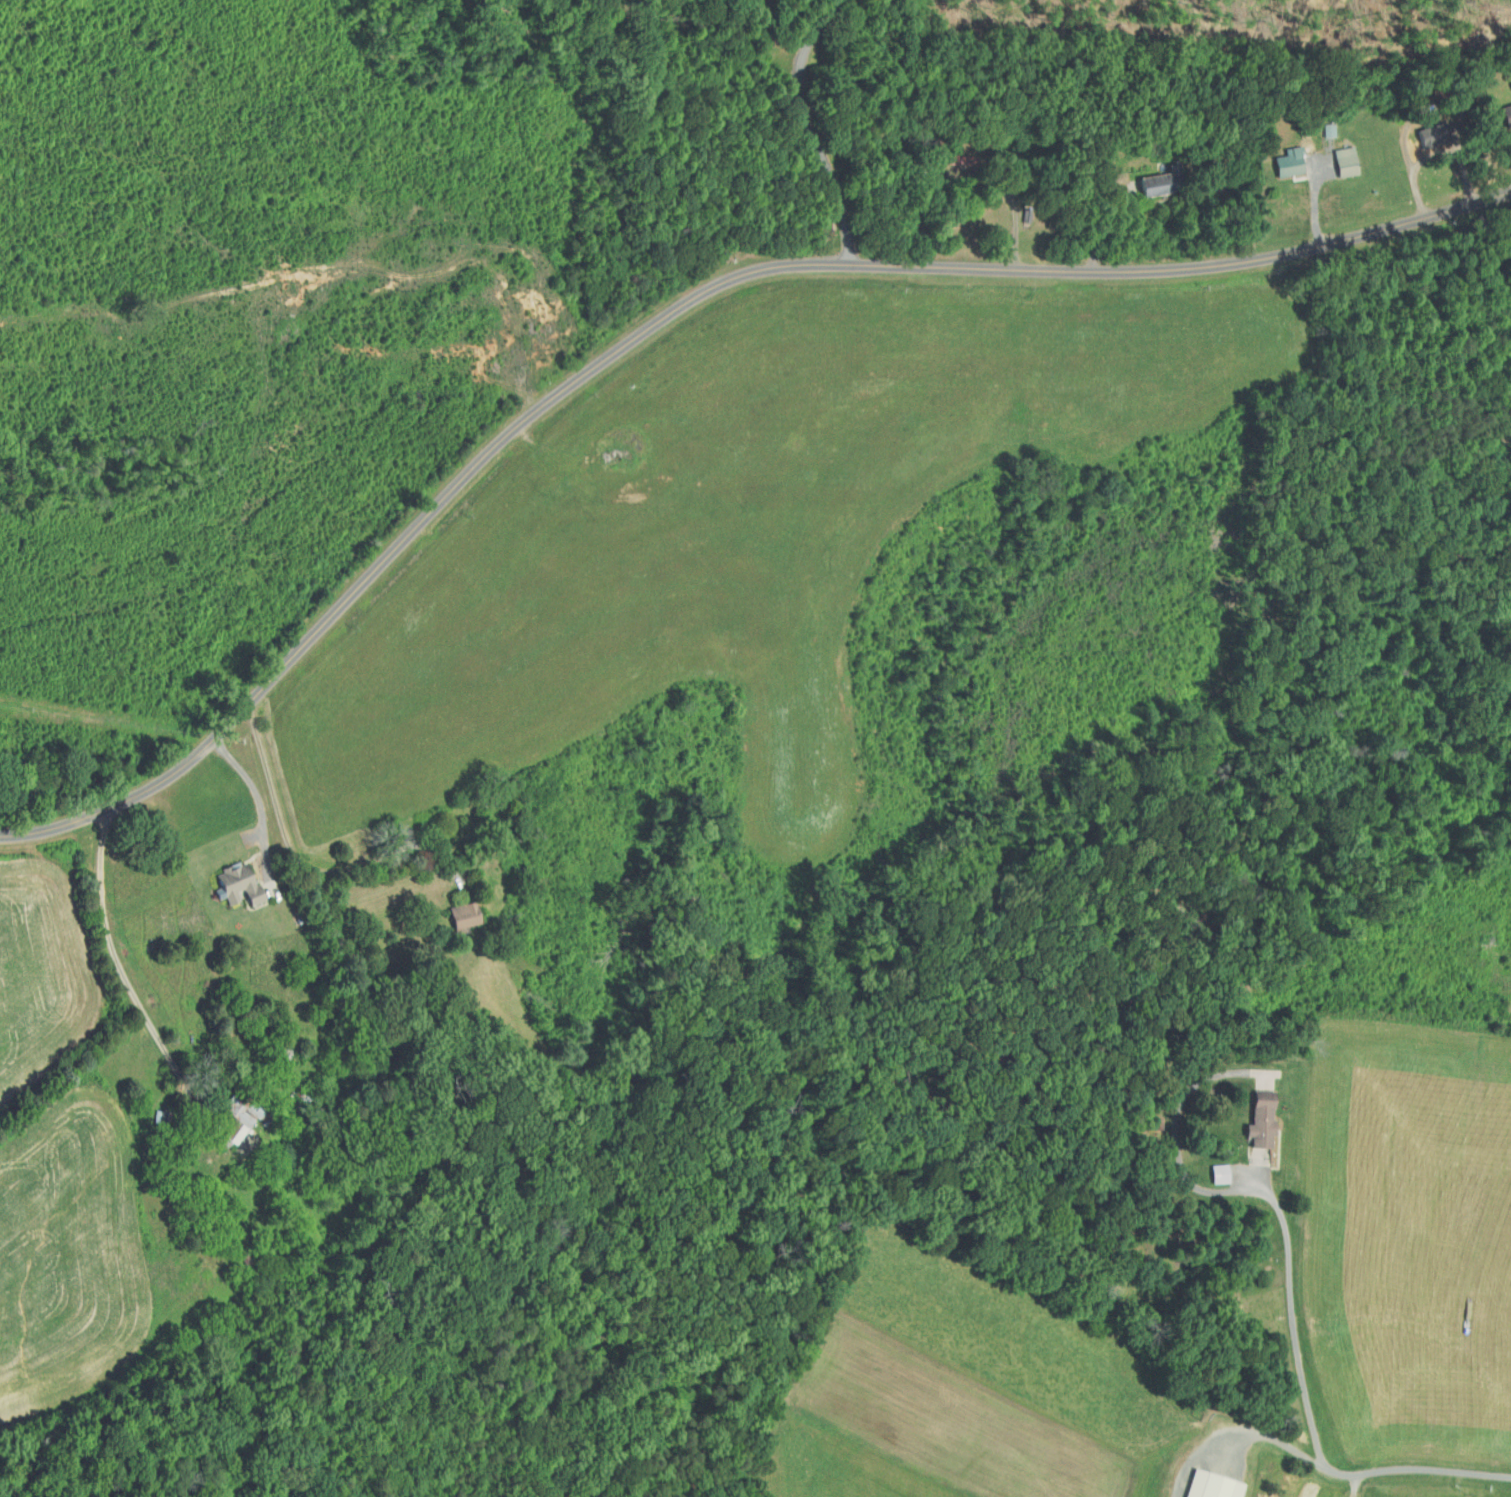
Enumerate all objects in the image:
building: (1504, 115)
road: (813, 127)
building: (1341, 161)
building: (1285, 162)
road: (1446, 170)
building: (1161, 182)
road: (1313, 206)
road: (1239, 207)
road: (967, 215)
road: (669, 315)
road: (261, 806)
road: (325, 864)
building: (243, 884)
building: (463, 914)
road: (122, 969)
building: (245, 1120)
building: (1266, 1121)
building: (1222, 1172)
road: (1293, 1288)
road: (1247, 1435)
building: (1218, 1484)

